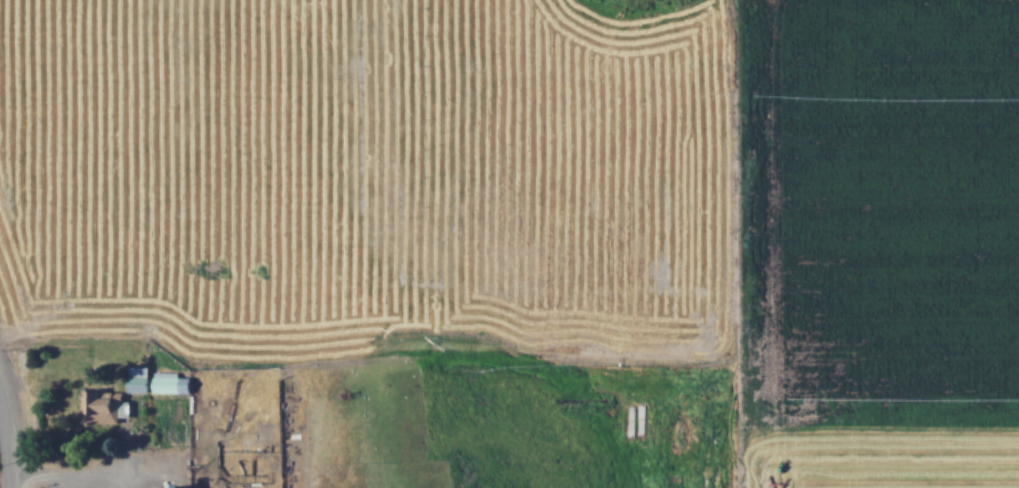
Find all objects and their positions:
building: (172, 383)
building: (103, 407)
road: (6, 463)
building: (183, 485)
building: (203, 487)

